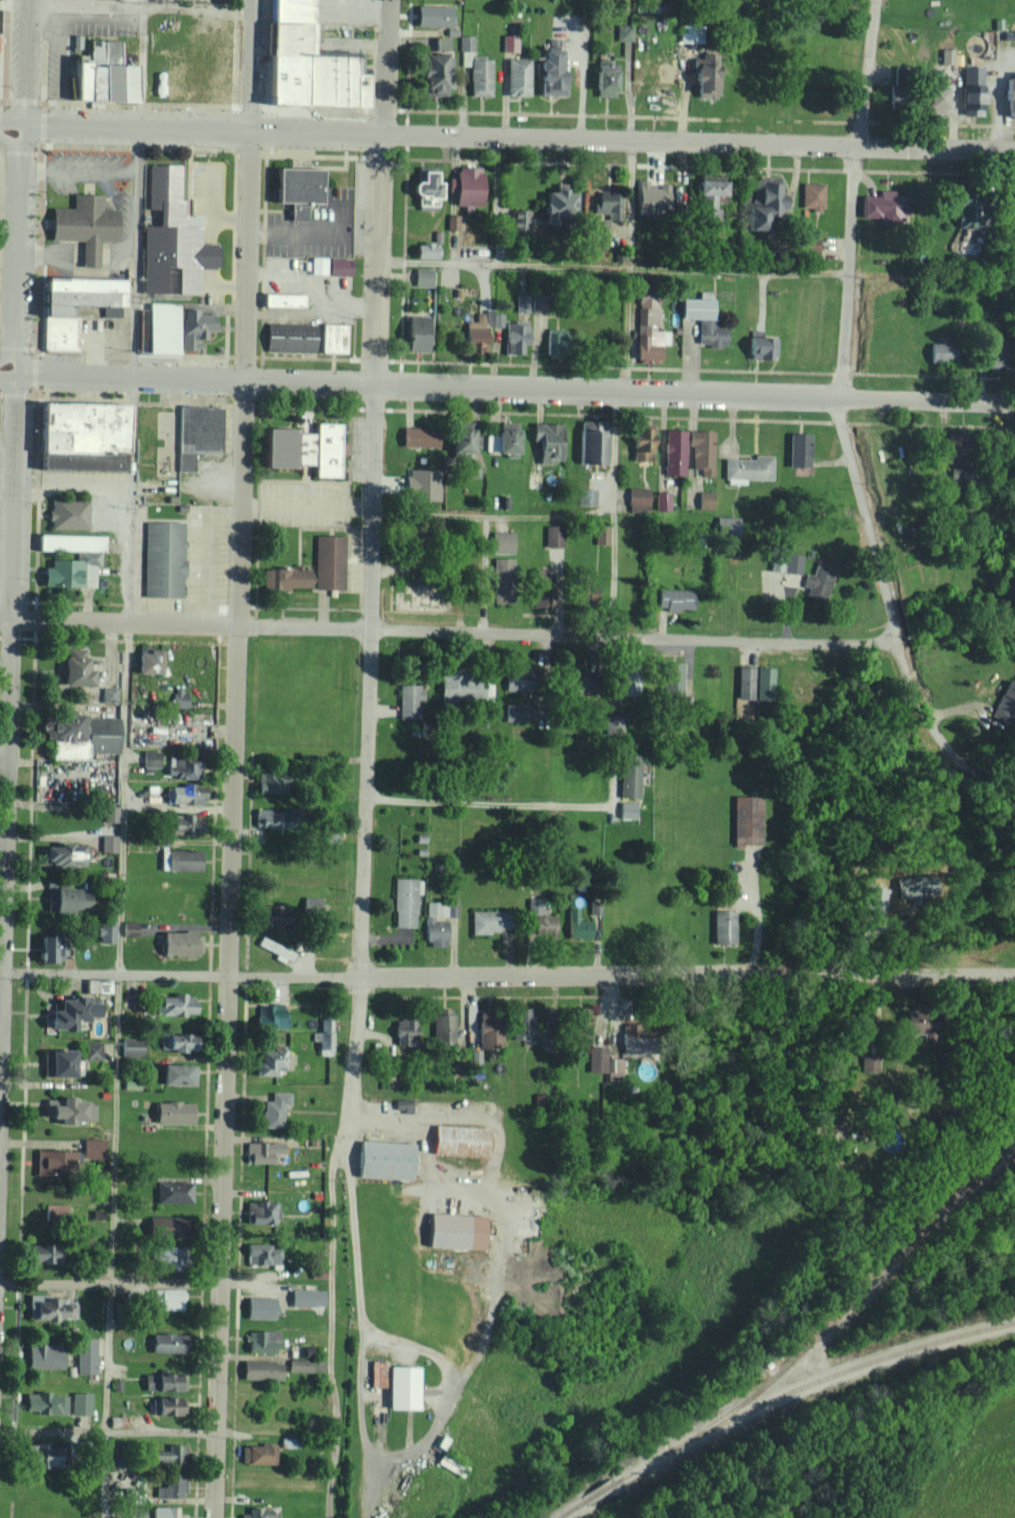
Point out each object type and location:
road: (138, 5)
building: (646, 5)
building: (431, 15)
building: (624, 32)
building: (690, 32)
building: (441, 42)
building: (466, 42)
building: (946, 55)
building: (466, 58)
road: (23, 61)
road: (144, 61)
road: (248, 62)
building: (303, 62)
road: (383, 67)
building: (99, 72)
building: (549, 72)
building: (434, 73)
road: (865, 73)
building: (517, 75)
building: (704, 75)
building: (480, 77)
building: (603, 78)
building: (971, 89)
building: (935, 93)
building: (1009, 94)
road: (10, 122)
road: (517, 137)
building: (466, 184)
building: (299, 186)
building: (424, 189)
building: (811, 195)
building: (651, 196)
building: (708, 196)
building: (556, 201)
building: (762, 201)
building: (606, 203)
building: (883, 205)
building: (84, 226)
building: (170, 237)
building: (809, 246)
road: (18, 248)
building: (424, 249)
road: (136, 250)
building: (330, 265)
road: (613, 267)
building: (422, 276)
building: (77, 284)
building: (281, 299)
building: (521, 300)
building: (703, 318)
building: (159, 328)
building: (648, 328)
building: (477, 330)
building: (57, 333)
building: (415, 333)
building: (514, 335)
building: (289, 336)
building: (554, 341)
building: (759, 344)
building: (940, 352)
building: (994, 362)
road: (8, 372)
road: (516, 386)
road: (626, 388)
building: (196, 432)
building: (78, 435)
building: (418, 436)
building: (459, 437)
building: (502, 439)
building: (546, 440)
building: (590, 441)
building: (641, 441)
building: (299, 448)
building: (700, 449)
building: (797, 449)
building: (673, 451)
building: (747, 468)
building: (533, 479)
building: (420, 483)
road: (184, 484)
road: (70, 486)
building: (585, 495)
road: (128, 499)
building: (637, 499)
building: (704, 499)
building: (662, 500)
road: (865, 507)
building: (67, 513)
road: (493, 513)
building: (726, 524)
building: (600, 533)
building: (553, 535)
building: (69, 541)
building: (502, 542)
building: (162, 559)
building: (328, 561)
building: (784, 562)
building: (67, 573)
building: (284, 577)
building: (501, 580)
building: (816, 581)
building: (539, 587)
building: (584, 588)
building: (674, 598)
road: (4, 616)
road: (452, 630)
building: (145, 661)
building: (73, 668)
building: (623, 674)
building: (671, 677)
building: (515, 679)
building: (763, 681)
building: (744, 682)
building: (460, 687)
building: (107, 693)
building: (178, 696)
building: (408, 700)
building: (1004, 702)
building: (612, 725)
building: (58, 727)
building: (102, 734)
road: (7, 741)
building: (150, 759)
building: (182, 766)
building: (629, 774)
building: (269, 781)
building: (184, 794)
road: (485, 802)
building: (626, 809)
building: (109, 813)
building: (268, 817)
building: (746, 819)
road: (229, 821)
building: (183, 824)
road: (361, 827)
building: (329, 833)
building: (108, 842)
building: (64, 854)
building: (68, 898)
building: (405, 900)
building: (309, 904)
building: (271, 913)
road: (756, 915)
building: (540, 919)
building: (488, 920)
building: (437, 921)
building: (577, 925)
building: (722, 926)
building: (128, 928)
building: (104, 930)
building: (179, 942)
building: (48, 948)
building: (276, 948)
road: (2, 970)
road: (509, 976)
building: (173, 1004)
building: (69, 1012)
building: (268, 1014)
building: (920, 1022)
building: (326, 1023)
building: (522, 1023)
building: (578, 1023)
building: (442, 1026)
building: (403, 1031)
building: (488, 1032)
building: (176, 1042)
building: (323, 1042)
building: (130, 1046)
building: (92, 1050)
building: (596, 1060)
building: (54, 1062)
building: (266, 1064)
building: (869, 1064)
road: (116, 1069)
building: (613, 1070)
building: (176, 1074)
building: (402, 1105)
building: (274, 1109)
building: (65, 1110)
building: (172, 1112)
building: (459, 1140)
building: (91, 1148)
building: (262, 1151)
building: (382, 1159)
building: (56, 1160)
road: (431, 1171)
road: (488, 1182)
building: (172, 1191)
building: (53, 1212)
building: (260, 1212)
building: (162, 1226)
building: (454, 1230)
building: (39, 1253)
building: (261, 1253)
building: (163, 1258)
road: (109, 1284)
railway: (862, 1292)
building: (305, 1297)
building: (166, 1298)
building: (49, 1307)
building: (258, 1307)
road: (361, 1332)
building: (260, 1341)
building: (167, 1342)
building: (42, 1355)
building: (84, 1355)
building: (305, 1365)
building: (259, 1369)
building: (376, 1373)
building: (163, 1382)
building: (401, 1387)
railway: (806, 1388)
road: (448, 1389)
building: (44, 1403)
building: (79, 1403)
building: (165, 1406)
building: (374, 1422)
road: (108, 1431)
building: (40, 1454)
building: (257, 1454)
building: (169, 1455)
building: (451, 1464)
park: (961, 1470)
building: (171, 1487)
railway: (595, 1493)
railway: (571, 1511)
building: (135, 1512)
building: (164, 1512)
building: (255, 1513)

